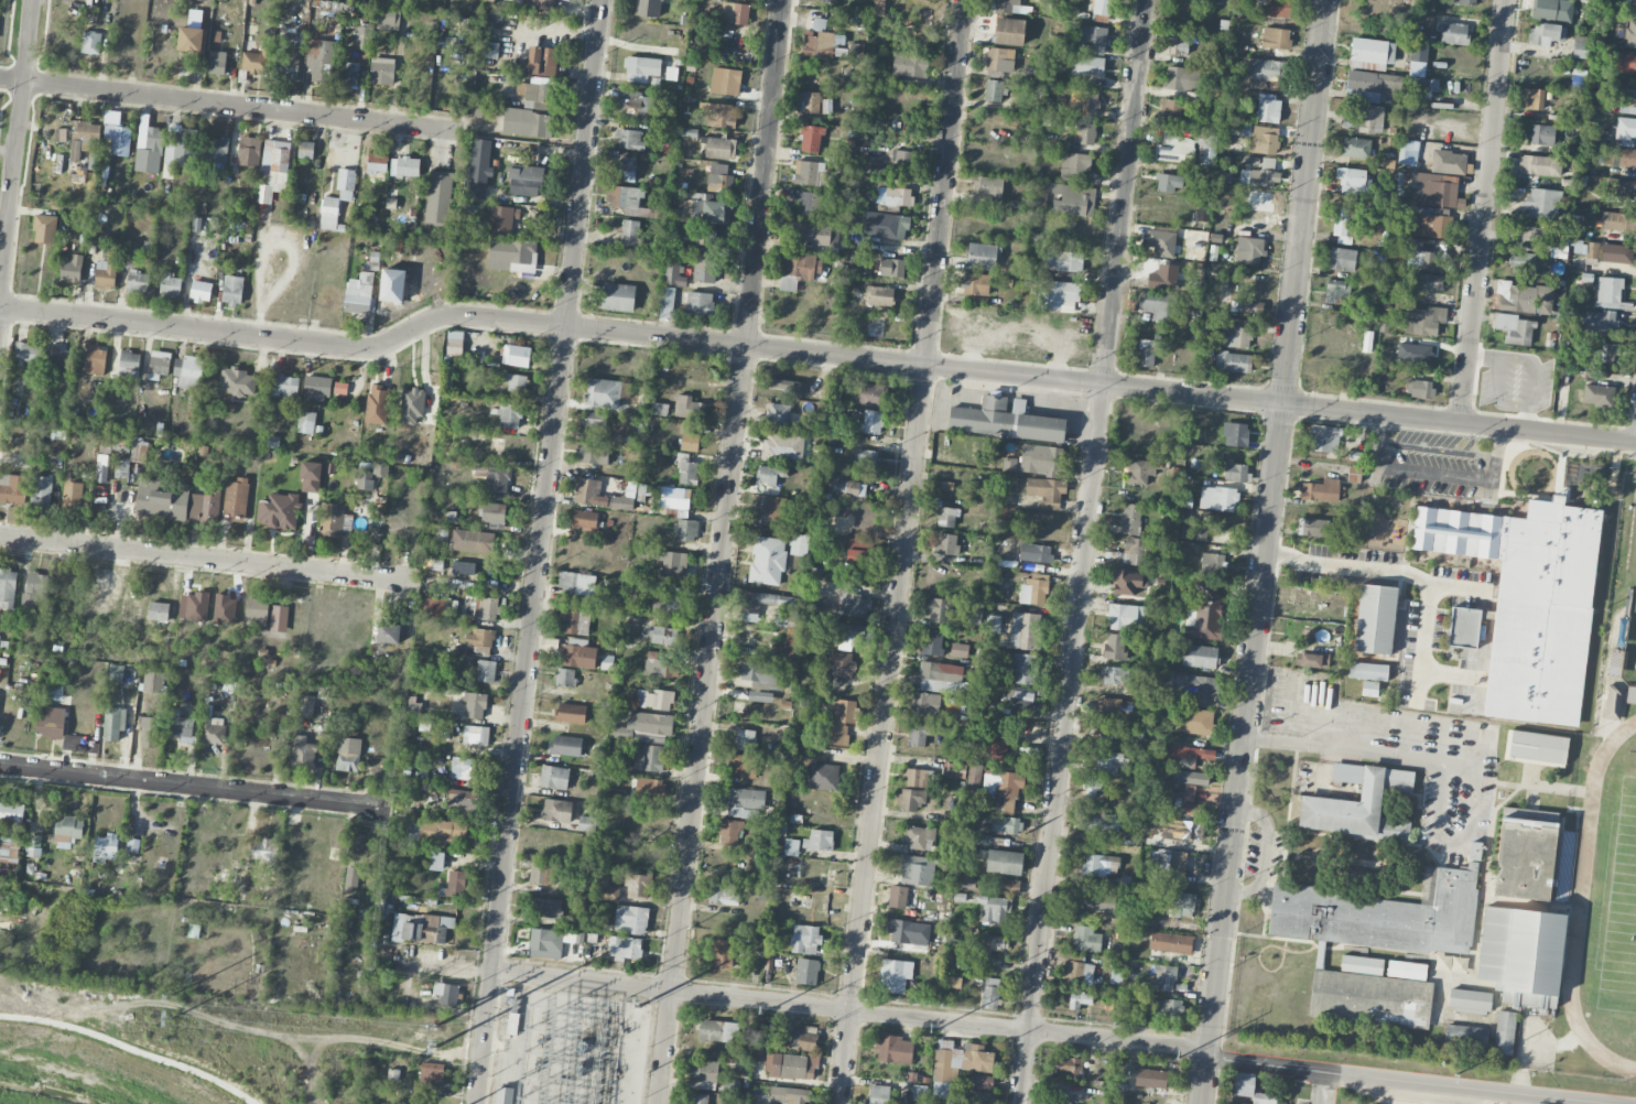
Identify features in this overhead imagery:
building: (828, 0)
building: (1217, 1)
building: (1465, 2)
building: (539, 4)
building: (1004, 6)
building: (326, 7)
building: (1103, 7)
building: (648, 8)
building: (1275, 8)
building: (1629, 8)
building: (878, 9)
building: (1552, 9)
building: (735, 13)
building: (388, 19)
building: (1009, 32)
building: (1454, 33)
building: (1545, 34)
building: (1630, 34)
building: (362, 37)
building: (1275, 39)
building: (192, 40)
building: (819, 41)
building: (91, 42)
building: (1181, 47)
building: (1581, 47)
building: (489, 50)
building: (856, 51)
building: (1091, 51)
building: (1372, 54)
building: (999, 59)
building: (1418, 59)
building: (319, 61)
building: (540, 62)
building: (1625, 62)
building: (216, 63)
building: (253, 63)
building: (909, 65)
building: (288, 67)
building: (641, 69)
building: (1263, 69)
building: (382, 72)
building: (348, 74)
building: (1181, 78)
building: (1578, 79)
building: (725, 82)
building: (1372, 86)
building: (1419, 87)
building: (993, 90)
building: (537, 95)
building: (1627, 97)
building: (1534, 99)
building: (1087, 101)
building: (636, 102)
building: (809, 102)
road: (232, 107)
building: (1267, 108)
building: (1170, 113)
building: (717, 115)
building: (1369, 118)
building: (528, 123)
building: (1618, 126)
building: (1239, 131)
building: (1087, 133)
building: (1541, 134)
building: (87, 136)
building: (118, 139)
building: (811, 139)
building: (629, 140)
building: (1264, 140)
road: (15, 144)
building: (718, 148)
building: (1355, 148)
building: (1174, 149)
building: (181, 150)
building: (306, 150)
building: (217, 151)
building: (249, 151)
building: (151, 152)
building: (1408, 153)
building: (1209, 154)
building: (1617, 156)
building: (1249, 161)
building: (903, 162)
building: (1448, 162)
building: (377, 163)
building: (1074, 165)
building: (1539, 165)
building: (404, 166)
building: (478, 169)
building: (272, 170)
building: (622, 172)
building: (806, 172)
building: (77, 174)
building: (1259, 177)
building: (719, 178)
building: (526, 181)
building: (1353, 181)
building: (1169, 183)
building: (346, 184)
building: (987, 186)
building: (1618, 188)
building: (1438, 190)
building: (895, 196)
building: (438, 197)
building: (625, 197)
building: (1066, 198)
building: (1542, 203)
building: (809, 204)
road: (1483, 210)
building: (329, 213)
building: (716, 213)
building: (502, 220)
building: (1618, 221)
building: (897, 226)
building: (1344, 226)
building: (1431, 226)
building: (45, 229)
building: (810, 232)
building: (629, 234)
building: (706, 237)
building: (1556, 242)
building: (1249, 250)
building: (1591, 250)
building: (1396, 252)
building: (1617, 255)
building: (982, 257)
building: (522, 259)
building: (1341, 259)
building: (1428, 260)
building: (1066, 261)
building: (1523, 262)
building: (891, 268)
building: (72, 269)
building: (705, 270)
building: (799, 270)
building: (107, 272)
building: (673, 274)
building: (138, 282)
building: (1428, 282)
building: (170, 284)
building: (974, 284)
building: (232, 290)
building: (201, 291)
building: (1337, 291)
building: (1608, 293)
building: (358, 294)
building: (1057, 295)
building: (880, 296)
building: (618, 297)
building: (1524, 297)
building: (667, 299)
building: (700, 304)
building: (1160, 306)
building: (1246, 307)
building: (1364, 313)
building: (1423, 321)
building: (1601, 322)
building: (1515, 328)
building: (1233, 333)
building: (455, 343)
building: (28, 353)
building: (1147, 353)
building: (1603, 353)
road: (815, 354)
building: (516, 356)
building: (58, 359)
building: (95, 359)
road: (1535, 361)
building: (1236, 362)
building: (129, 364)
building: (159, 365)
building: (187, 371)
building: (237, 382)
building: (516, 382)
building: (317, 386)
building: (786, 386)
building: (285, 388)
building: (340, 388)
building: (1419, 388)
building: (607, 392)
building: (873, 396)
building: (1597, 396)
building: (377, 403)
building: (687, 408)
building: (658, 409)
building: (509, 415)
building: (778, 415)
building: (596, 419)
building: (1005, 421)
building: (306, 422)
building: (871, 422)
building: (1235, 434)
building: (1323, 439)
building: (690, 442)
building: (782, 445)
building: (139, 450)
building: (593, 455)
building: (866, 458)
building: (1041, 459)
building: (1008, 464)
building: (122, 466)
building: (101, 472)
building: (1140, 472)
building: (1235, 472)
building: (687, 473)
road: (1433, 473)
building: (1354, 474)
building: (770, 475)
building: (371, 476)
building: (311, 477)
building: (495, 478)
building: (845, 486)
building: (946, 486)
building: (12, 489)
building: (630, 489)
building: (1320, 490)
building: (41, 491)
building: (72, 491)
building: (1045, 491)
building: (647, 494)
building: (598, 496)
building: (1217, 498)
building: (162, 499)
building: (236, 500)
building: (674, 501)
building: (204, 508)
building: (278, 511)
building: (492, 512)
building: (1006, 513)
building: (858, 516)
building: (945, 517)
building: (584, 519)
building: (1130, 519)
building: (333, 520)
road: (1269, 524)
building: (1193, 528)
building: (1317, 528)
building: (686, 530)
building: (473, 541)
building: (944, 543)
building: (799, 544)
road: (538, 551)
building: (860, 551)
building: (1133, 551)
road: (722, 552)
road: (904, 552)
road: (1086, 552)
building: (1036, 553)
building: (665, 561)
building: (767, 561)
road: (207, 562)
building: (1213, 563)
road: (1399, 572)
building: (1127, 583)
building: (575, 584)
building: (8, 588)
building: (35, 589)
building: (1034, 591)
building: (1303, 597)
building: (1529, 602)
building: (664, 603)
building: (761, 604)
building: (855, 606)
building: (485, 608)
park: (1629, 608)
building: (437, 609)
building: (1335, 609)
building: (257, 610)
building: (939, 610)
building: (158, 611)
building: (1205, 614)
building: (1126, 617)
building: (788, 619)
building: (1375, 619)
building: (574, 623)
building: (992, 624)
building: (1463, 627)
building: (1023, 631)
building: (389, 634)
building: (664, 636)
building: (848, 636)
building: (478, 638)
building: (790, 642)
building: (932, 642)
building: (1114, 647)
building: (960, 650)
building: (1199, 657)
building: (1313, 660)
building: (839, 664)
building: (660, 665)
building: (1021, 667)
building: (486, 671)
building: (1368, 671)
building: (116, 673)
building: (758, 673)
building: (1115, 675)
building: (565, 678)
building: (943, 679)
building: (153, 682)
building: (1369, 689)
building: (1200, 691)
building: (1630, 695)
building: (1022, 696)
building: (654, 700)
building: (1613, 703)
building: (925, 704)
building: (305, 705)
building: (475, 705)
building: (413, 707)
building: (1109, 711)
building: (571, 713)
building: (841, 721)
building: (1194, 721)
building: (51, 722)
building: (113, 723)
building: (644, 725)
building: (180, 727)
building: (150, 732)
building: (212, 732)
building: (475, 735)
building: (918, 736)
building: (745, 739)
building: (995, 739)
building: (565, 746)
building: (1536, 747)
road: (1359, 751)
building: (1028, 754)
building: (348, 755)
building: (304, 756)
building: (648, 758)
building: (1188, 762)
building: (1106, 764)
building: (743, 766)
building: (466, 769)
building: (954, 770)
building: (1346, 772)
building: (823, 776)
building: (990, 776)
building: (554, 777)
building: (974, 777)
building: (914, 778)
road: (195, 787)
building: (648, 788)
building: (1091, 788)
building: (1007, 791)
track: (1596, 797)
building: (462, 799)
building: (909, 800)
building: (744, 802)
building: (1190, 802)
building: (1293, 808)
building: (1359, 808)
building: (556, 811)
building: (11, 812)
building: (1098, 822)
building: (586, 825)
building: (1007, 825)
building: (67, 829)
building: (437, 831)
building: (1188, 831)
building: (730, 832)
building: (919, 837)
building: (979, 840)
building: (819, 841)
building: (34, 845)
building: (359, 845)
building: (1567, 845)
building: (106, 847)
building: (791, 847)
building: (9, 851)
building: (263, 851)
building: (1474, 851)
building: (1525, 857)
building: (435, 861)
building: (1004, 862)
building: (1099, 865)
building: (1168, 865)
building: (917, 870)
building: (542, 873)
building: (351, 877)
building: (964, 879)
building: (455, 884)
building: (638, 885)
building: (1005, 886)
building: (602, 888)
building: (719, 892)
building: (897, 897)
building: (1093, 901)
building: (1182, 905)
building: (546, 907)
building: (993, 909)
building: (1384, 914)
park: (1617, 918)
building: (630, 920)
building: (420, 927)
building: (909, 932)
building: (804, 939)
building: (1085, 939)
building: (545, 943)
building: (1171, 943)
building: (993, 944)
building: (624, 948)
building: (722, 952)
building: (1521, 955)
building: (1320, 957)
building: (1442, 963)
building: (1364, 965)
building: (1077, 970)
building: (1406, 970)
building: (806, 972)
building: (895, 975)
building: (1162, 978)
building: (955, 982)
track: (1569, 983)
building: (990, 993)
building: (446, 994)
power tower: (176, 997)
building: (1077, 999)
building: (1469, 1000)
power tower: (639, 1006)
building: (1168, 1007)
road: (848, 1010)
power tower: (761, 1013)
power tower: (171, 1018)
building: (516, 1024)
power tower: (435, 1026)
building: (717, 1030)
building: (1505, 1032)
building: (1465, 1036)
building: (803, 1039)
road: (494, 1043)
road: (131, 1047)
power tower: (436, 1047)
power substation: (571, 1049)
building: (893, 1049)
road: (1207, 1053)
power tower: (1175, 1057)
building: (958, 1060)
building: (791, 1067)
building: (1070, 1067)
building: (703, 1071)
building: (432, 1074)
power tower: (1455, 1074)
building: (1151, 1079)
road: (1204, 1080)
road: (1406, 1080)
building: (978, 1081)
road: (1317, 1086)
building: (1246, 1087)
building: (919, 1093)
building: (878, 1094)
building: (506, 1095)
building: (790, 1095)
building: (1059, 1096)
building: (698, 1098)
building: (1232, 1103)

